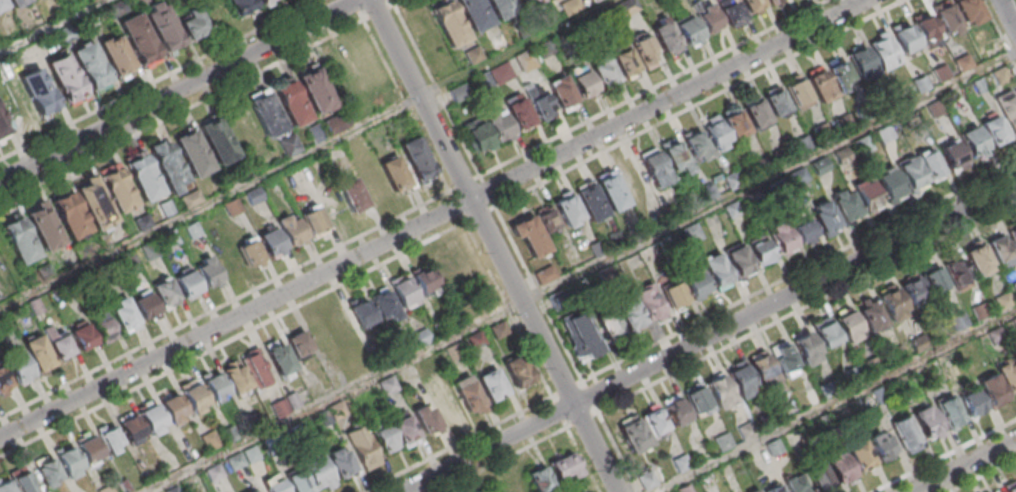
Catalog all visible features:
building: (34, 0)
building: (547, 0)
building: (773, 2)
building: (267, 3)
building: (17, 4)
building: (529, 4)
building: (2, 6)
building: (753, 6)
building: (242, 7)
building: (502, 9)
building: (968, 9)
building: (731, 12)
road: (1009, 13)
building: (475, 16)
building: (947, 17)
building: (710, 21)
building: (193, 22)
building: (449, 23)
building: (163, 26)
building: (926, 28)
road: (999, 31)
building: (690, 33)
building: (905, 38)
building: (666, 40)
building: (139, 42)
building: (646, 51)
building: (884, 51)
building: (473, 54)
building: (118, 59)
building: (860, 60)
building: (525, 61)
building: (963, 63)
building: (626, 65)
building: (92, 69)
building: (604, 73)
building: (842, 74)
building: (1000, 75)
building: (66, 81)
building: (582, 82)
building: (819, 83)
building: (921, 83)
road: (436, 85)
road: (655, 88)
road: (179, 90)
building: (316, 90)
building: (458, 92)
building: (798, 92)
building: (39, 94)
building: (562, 94)
building: (291, 102)
building: (540, 102)
building: (777, 103)
building: (1009, 109)
building: (519, 111)
building: (266, 112)
building: (756, 113)
building: (737, 126)
building: (3, 128)
building: (488, 129)
building: (994, 129)
building: (718, 135)
building: (972, 140)
building: (219, 143)
building: (289, 145)
building: (697, 146)
building: (952, 153)
road: (306, 155)
building: (675, 155)
building: (194, 156)
building: (417, 162)
building: (930, 163)
building: (819, 165)
building: (167, 166)
building: (762, 166)
building: (655, 168)
building: (910, 172)
building: (798, 175)
road: (481, 176)
building: (395, 177)
road: (770, 177)
building: (733, 180)
building: (145, 181)
building: (888, 183)
building: (611, 191)
building: (119, 192)
building: (866, 194)
building: (354, 197)
building: (590, 202)
building: (846, 205)
building: (166, 208)
building: (567, 209)
building: (824, 216)
building: (71, 218)
road: (434, 218)
building: (314, 219)
building: (45, 230)
building: (536, 231)
building: (803, 231)
building: (292, 233)
building: (1013, 233)
building: (781, 238)
building: (271, 242)
building: (21, 243)
road: (496, 245)
building: (249, 251)
building: (760, 251)
building: (1000, 251)
building: (978, 259)
building: (738, 260)
building: (444, 266)
building: (716, 269)
building: (210, 272)
building: (957, 273)
building: (544, 275)
building: (933, 278)
building: (187, 283)
building: (425, 283)
building: (1014, 285)
building: (684, 289)
building: (165, 293)
building: (913, 293)
building: (404, 294)
building: (889, 300)
building: (1003, 301)
building: (650, 302)
road: (225, 305)
road: (545, 305)
building: (146, 306)
road: (807, 306)
building: (385, 307)
building: (980, 311)
building: (362, 312)
building: (629, 314)
building: (870, 316)
building: (125, 319)
building: (958, 320)
building: (607, 322)
building: (1014, 324)
building: (103, 327)
building: (848, 327)
building: (825, 334)
building: (996, 335)
building: (581, 336)
building: (82, 337)
road: (709, 337)
road: (233, 341)
building: (59, 345)
building: (300, 348)
building: (806, 348)
building: (38, 354)
building: (784, 359)
building: (280, 361)
building: (18, 366)
building: (763, 369)
building: (517, 375)
building: (1007, 376)
building: (741, 380)
building: (4, 381)
building: (238, 383)
building: (387, 387)
building: (492, 388)
building: (216, 391)
building: (719, 391)
building: (992, 394)
building: (195, 400)
building: (470, 400)
building: (697, 400)
road: (836, 401)
building: (971, 403)
building: (447, 408)
building: (174, 411)
building: (675, 411)
building: (950, 415)
building: (154, 422)
building: (426, 422)
building: (654, 422)
building: (927, 425)
building: (746, 431)
building: (132, 432)
building: (394, 433)
building: (905, 434)
road: (551, 436)
building: (635, 439)
building: (109, 440)
building: (723, 442)
road: (458, 444)
building: (88, 448)
building: (883, 449)
building: (364, 452)
road: (945, 456)
building: (860, 458)
building: (68, 462)
building: (680, 465)
building: (563, 466)
road: (965, 466)
building: (342, 468)
building: (47, 471)
building: (839, 471)
building: (319, 475)
road: (984, 476)
building: (538, 478)
building: (819, 478)
building: (17, 481)
building: (299, 483)
building: (796, 484)
building: (514, 485)
building: (276, 488)
building: (1011, 488)
building: (106, 489)
building: (776, 490)
building: (757, 491)
building: (999, 491)

